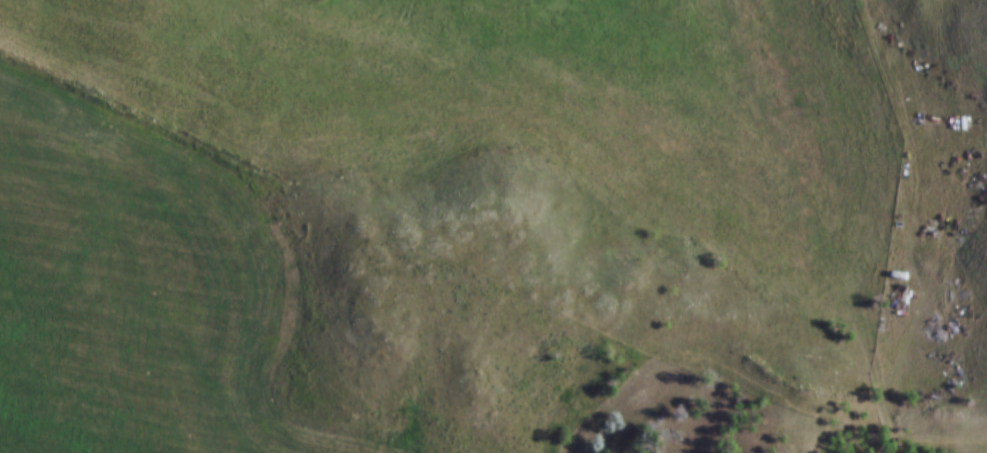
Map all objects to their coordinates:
building: (897, 291)

